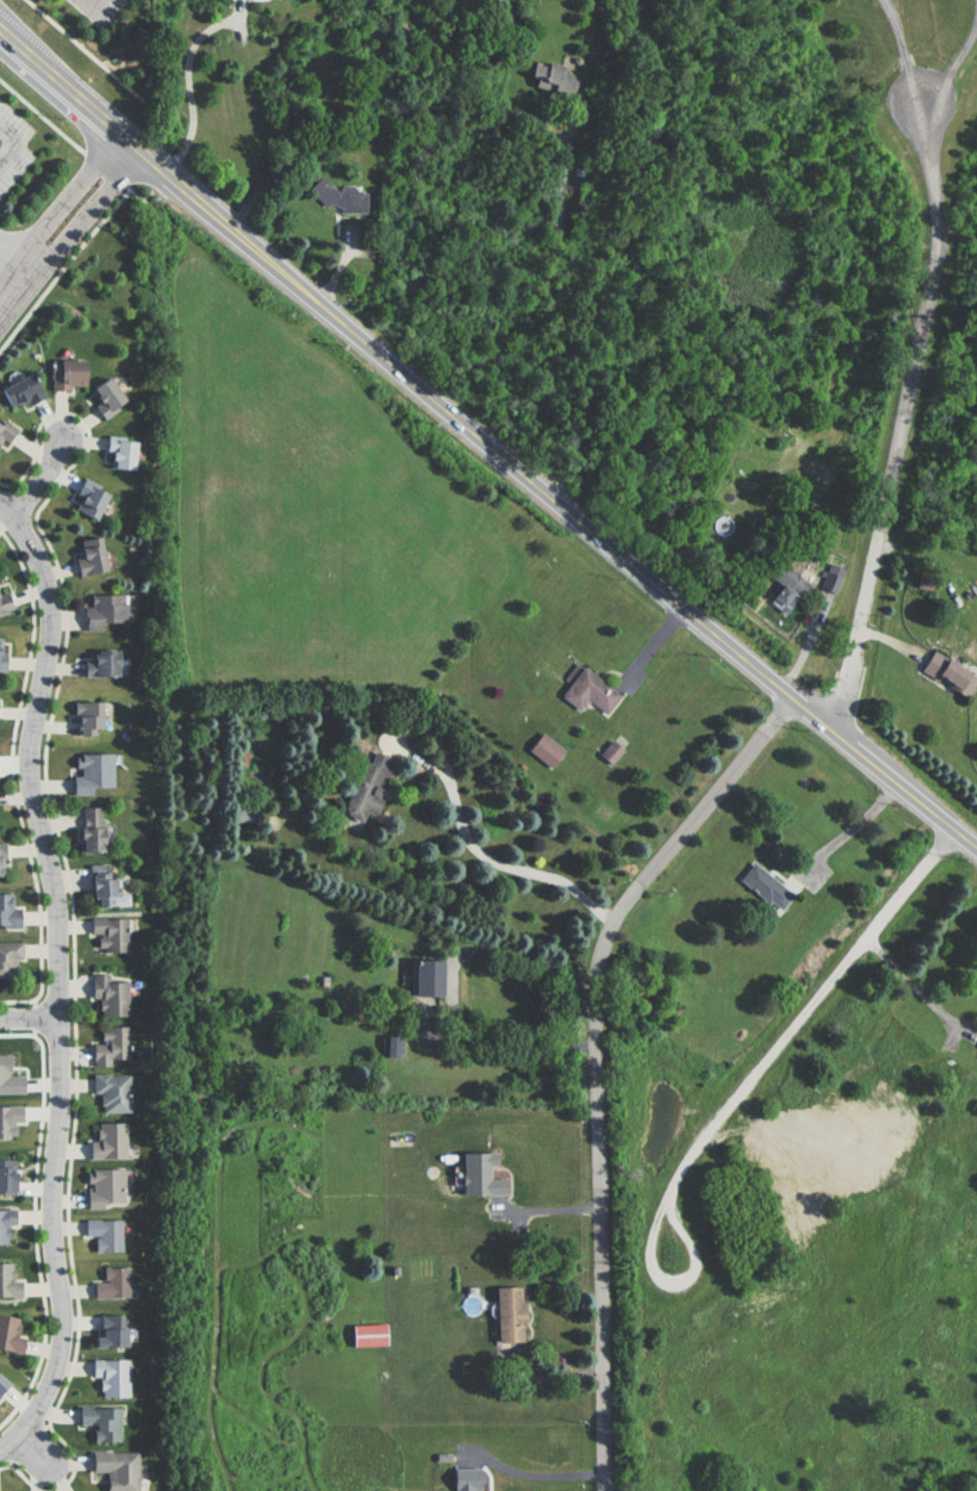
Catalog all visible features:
road: (80, 0)
parking lot: (102, 7)
road: (90, 10)
building: (99, 10)
road: (80, 48)
road: (902, 49)
road: (950, 62)
road: (56, 131)
road: (15, 144)
parking lot: (12, 147)
road: (129, 148)
road: (67, 193)
building: (335, 197)
road: (88, 211)
road: (12, 260)
road: (16, 281)
road: (553, 312)
building: (65, 374)
building: (18, 391)
building: (103, 397)
road: (903, 417)
building: (6, 434)
building: (117, 455)
road: (36, 479)
crop: (303, 484)
building: (86, 499)
road: (618, 554)
building: (87, 555)
building: (831, 573)
building: (782, 587)
building: (4, 599)
building: (103, 610)
building: (1, 653)
building: (104, 664)
building: (946, 674)
building: (587, 692)
building: (84, 717)
building: (544, 750)
building: (611, 752)
building: (365, 786)
building: (87, 829)
building: (0, 854)
road: (483, 856)
building: (98, 886)
building: (765, 888)
building: (7, 912)
building: (107, 934)
building: (9, 960)
building: (422, 978)
road: (453, 982)
road: (56, 986)
road: (914, 989)
building: (110, 995)
road: (28, 1018)
road: (786, 1034)
building: (110, 1046)
building: (387, 1047)
road: (599, 1062)
building: (111, 1092)
building: (815, 1127)
road: (546, 1211)
building: (5, 1222)
building: (101, 1234)
building: (7, 1280)
building: (110, 1283)
building: (506, 1314)
building: (370, 1332)
building: (9, 1334)
building: (100, 1422)
building: (114, 1469)
road: (536, 1488)

